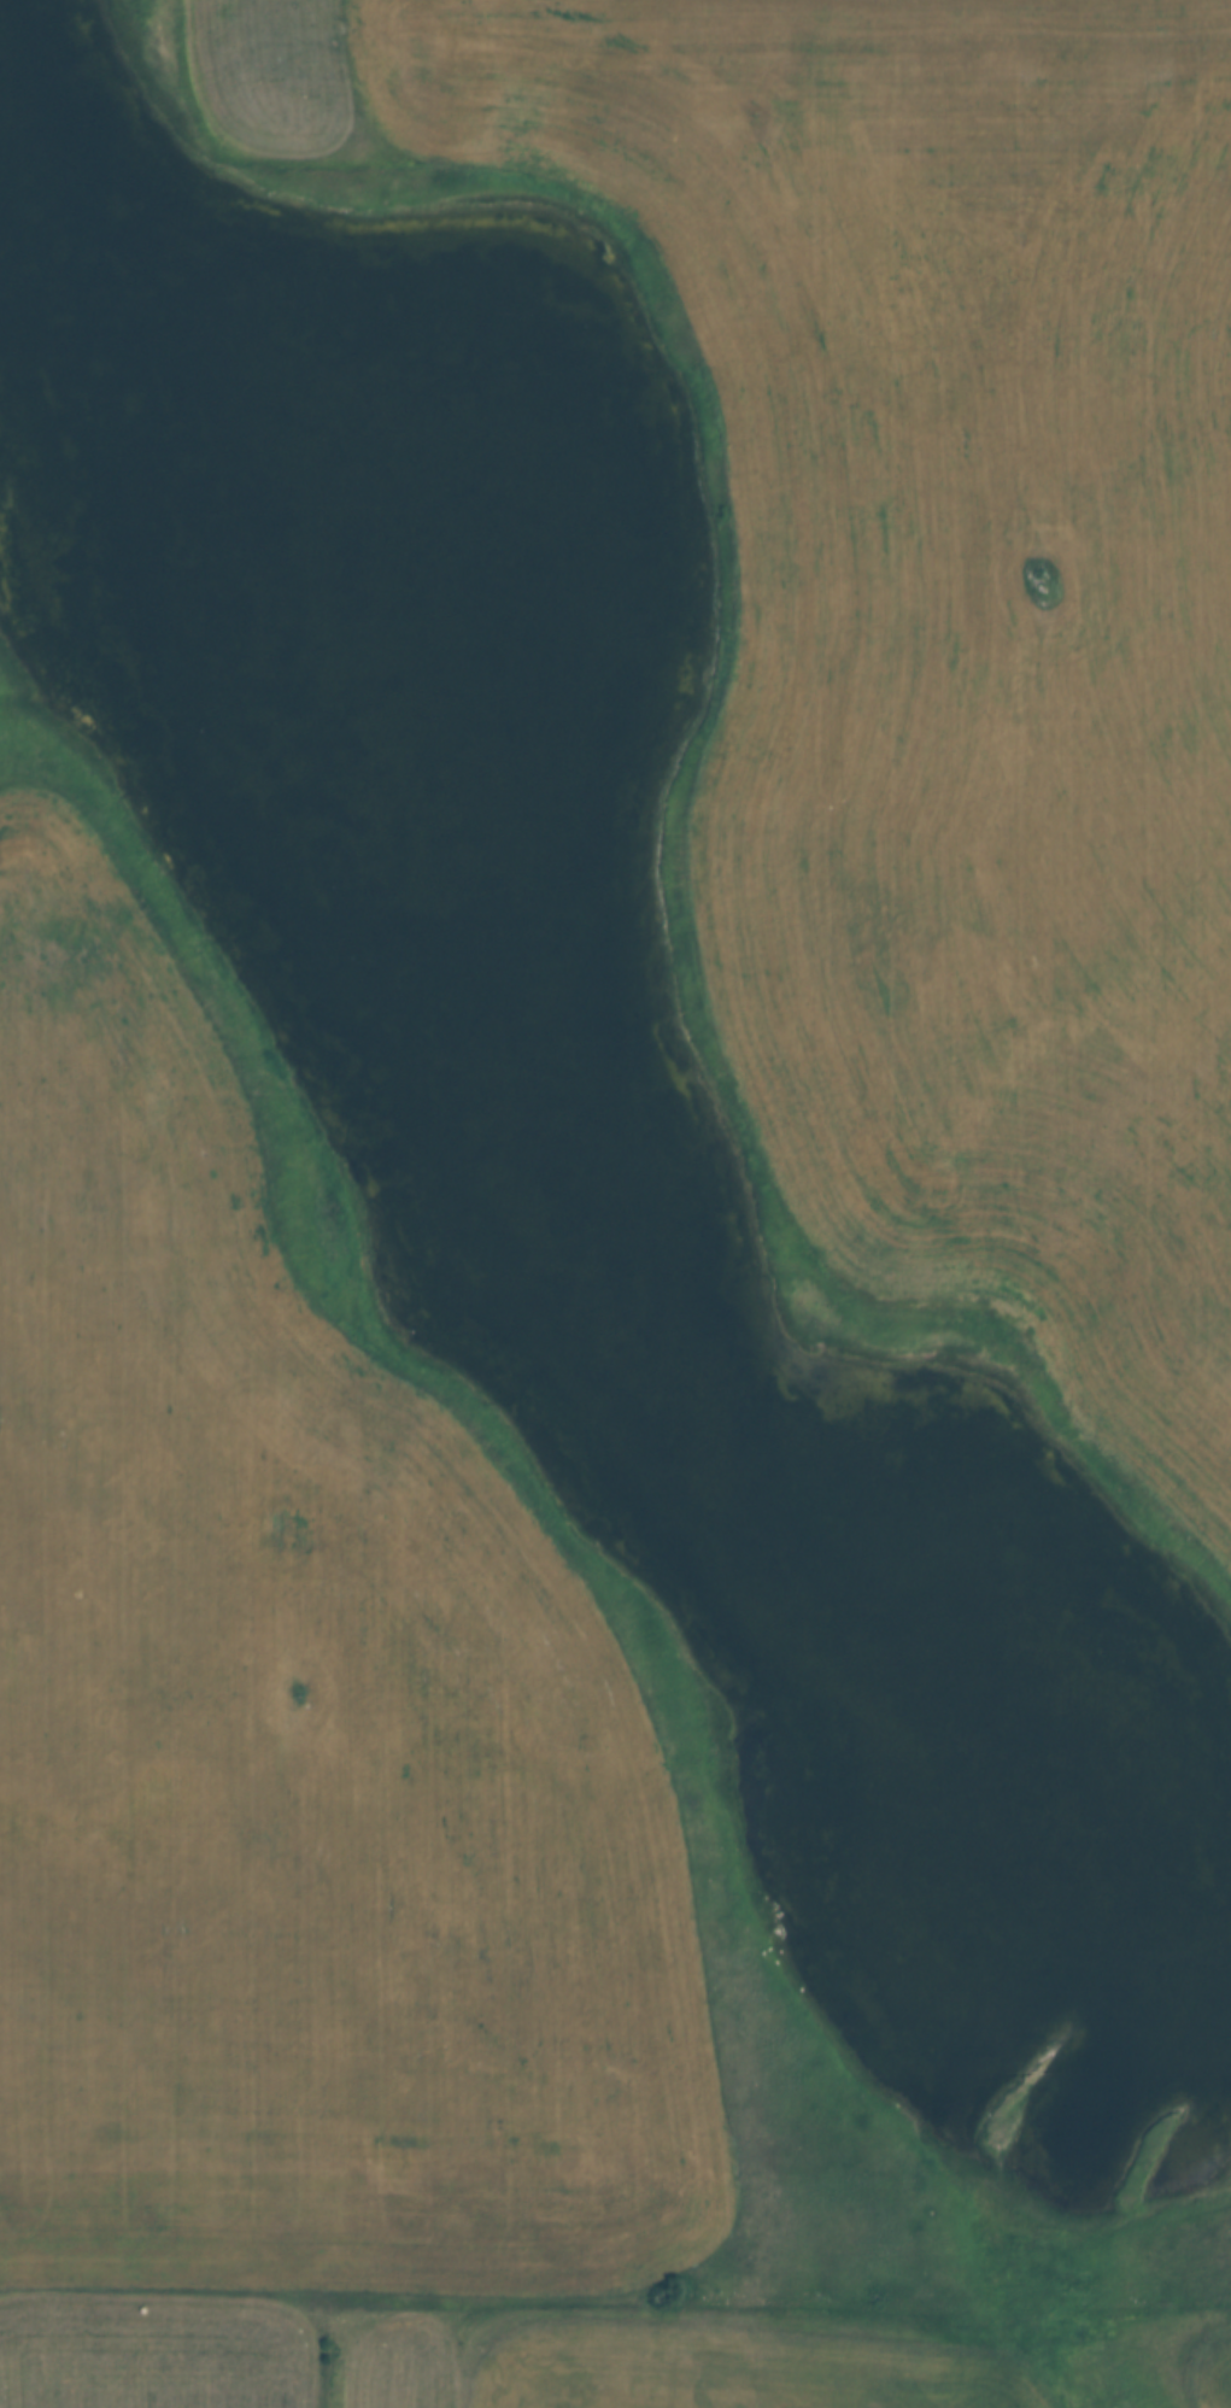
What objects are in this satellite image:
crop: (1204, 2361)
crop: (722, 2365)

